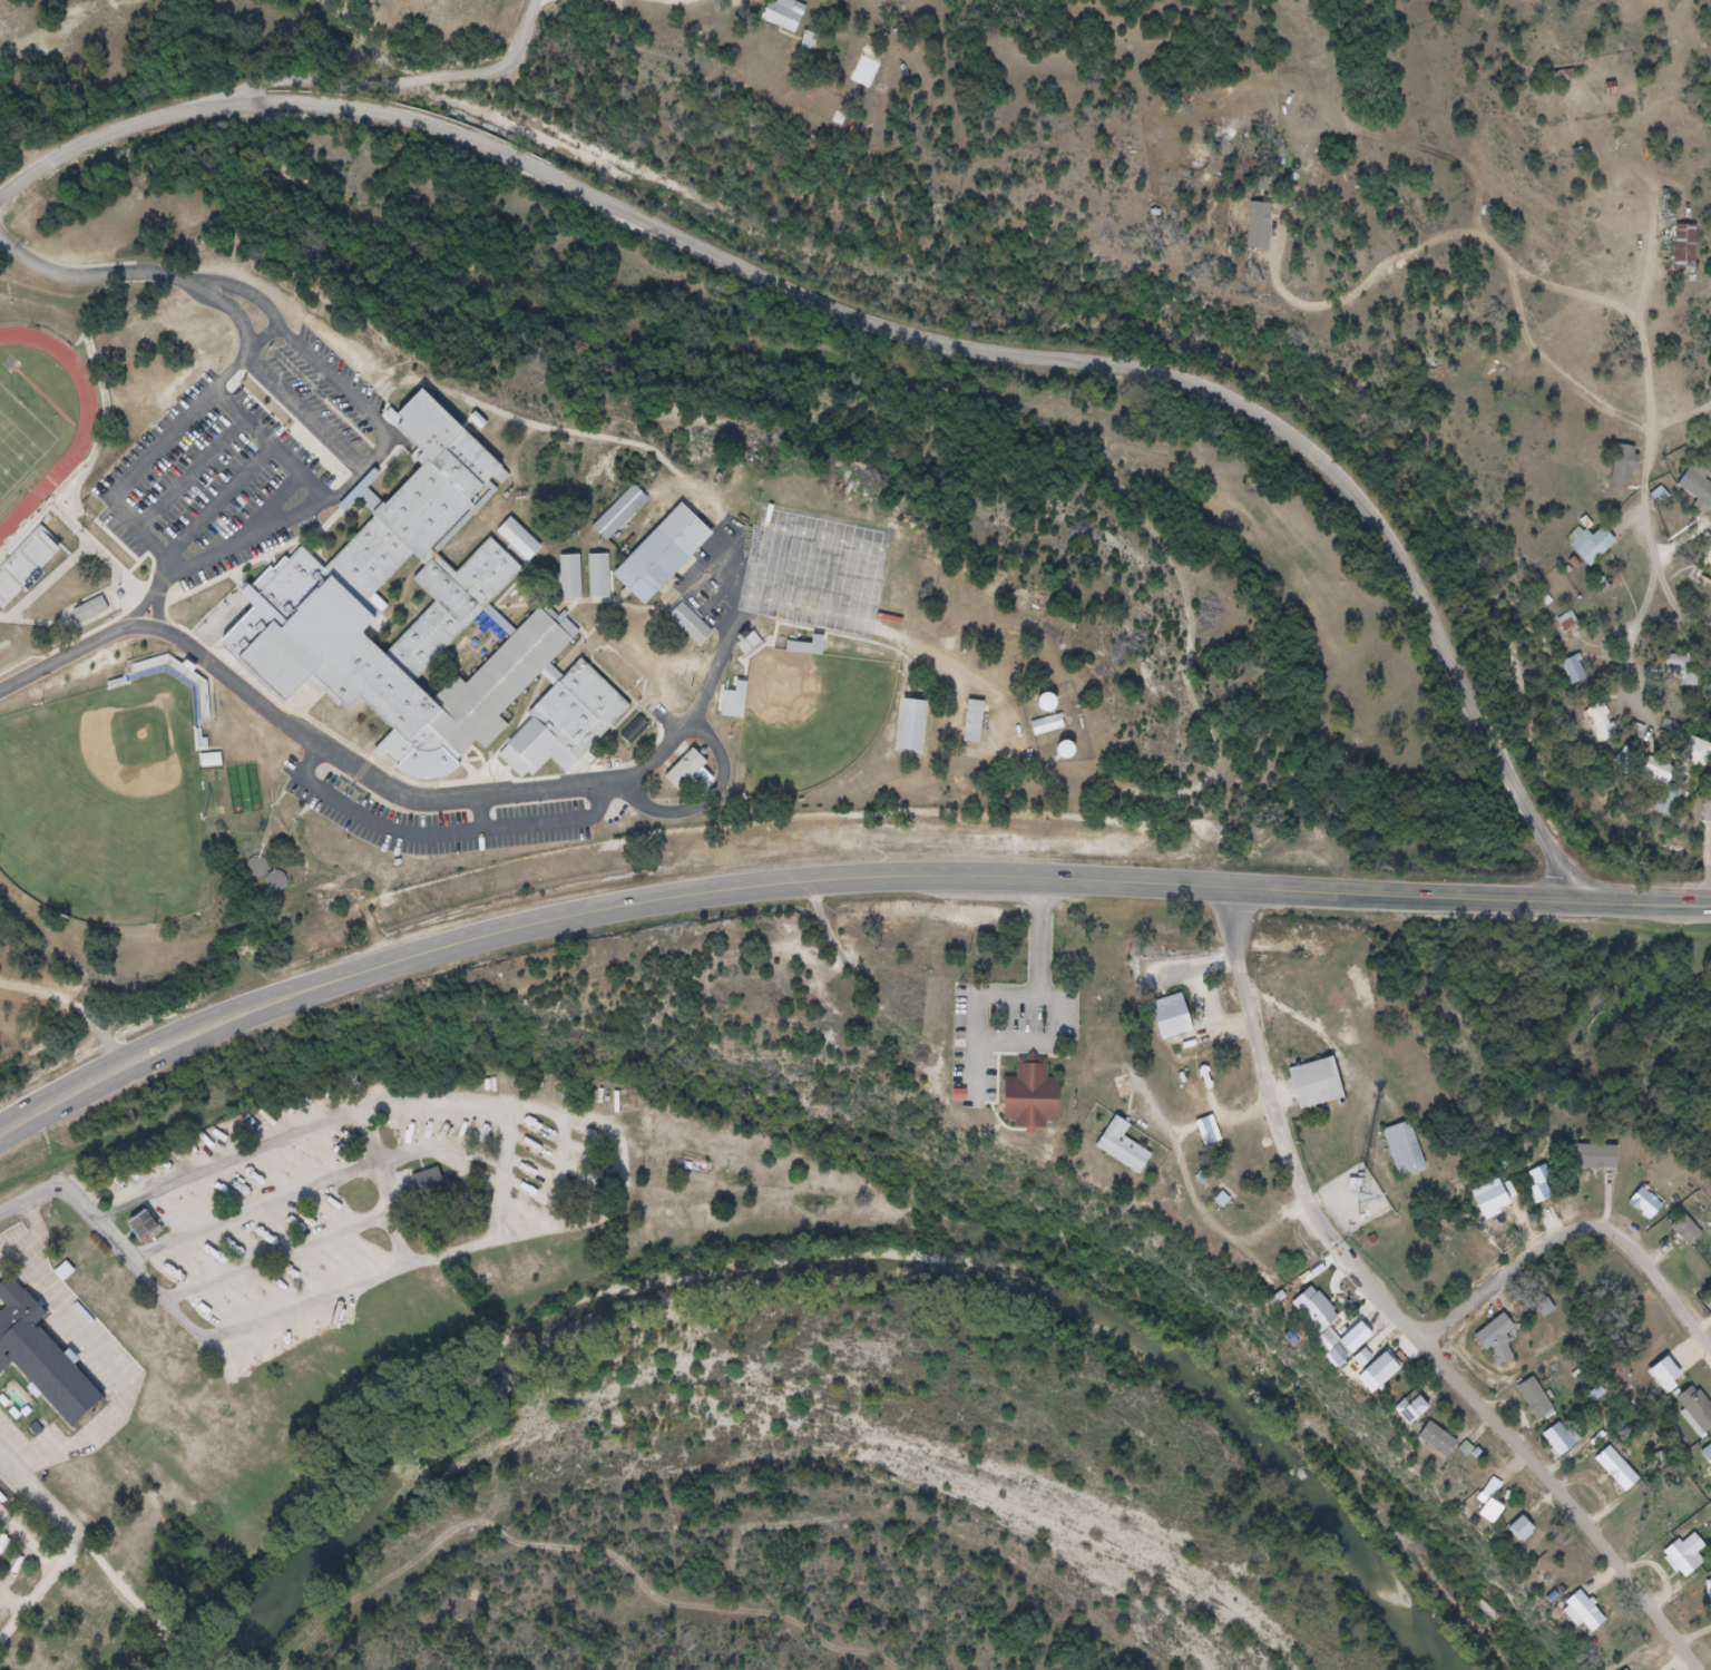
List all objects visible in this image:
road: (558, 2)
road: (682, 3)
building: (792, 19)
building: (811, 41)
road: (392, 81)
building: (1686, 247)
road: (96, 276)
road: (897, 328)
road: (264, 339)
road: (335, 379)
road: (1644, 392)
road: (302, 411)
track: (96, 428)
road: (549, 429)
road: (174, 431)
park: (21, 462)
parking lot: (243, 466)
building: (1625, 466)
road: (296, 469)
road: (190, 475)
stadium: (55, 478)
building: (1698, 485)
road: (317, 488)
road: (221, 502)
building: (619, 512)
building: (517, 538)
building: (1593, 546)
road: (224, 553)
building: (661, 556)
building: (26, 567)
building: (569, 577)
building: (598, 577)
building: (321, 587)
building: (91, 611)
road: (140, 612)
building: (690, 624)
building: (1571, 624)
building: (809, 646)
road: (70, 657)
building: (1575, 670)
building: (1683, 671)
building: (202, 700)
building: (734, 701)
building: (566, 720)
park: (808, 721)
building: (1601, 723)
building: (1049, 725)
building: (911, 726)
building: (1698, 754)
building: (212, 761)
building: (687, 771)
building: (1664, 784)
road: (456, 799)
road: (700, 805)
park: (108, 807)
road: (480, 816)
road: (1709, 818)
parking lot: (433, 820)
road: (444, 837)
road: (1708, 847)
road: (1004, 878)
road: (1710, 886)
road: (1043, 938)
building: (1180, 1025)
road: (151, 1061)
road: (1267, 1077)
building: (1125, 1088)
building: (1326, 1095)
building: (1038, 1105)
road: (599, 1124)
building: (1131, 1151)
building: (1415, 1163)
building: (1603, 1166)
road: (343, 1176)
road: (384, 1186)
building: (430, 1188)
road: (506, 1204)
building: (1651, 1210)
building: (144, 1225)
road: (107, 1237)
road: (1577, 1238)
building: (1697, 1240)
road: (278, 1258)
river: (825, 1267)
road: (1380, 1300)
building: (1546, 1308)
building: (1341, 1342)
building: (1505, 1350)
building: (43, 1358)
building: (1390, 1387)
building: (1671, 1387)
building: (1417, 1410)
building: (1545, 1412)
building: (1702, 1415)
building: (1418, 1423)
building: (39, 1430)
building: (1447, 1449)
building: (1567, 1452)
building: (1473, 1453)
building: (1709, 1461)
building: (1624, 1477)
road: (41, 1495)
road: (1563, 1502)
building: (1496, 1518)
building: (1525, 1530)
building: (1529, 1543)
road: (26, 1545)
building: (1693, 1561)
road: (40, 1586)
building: (1708, 1595)
road: (9, 1601)
building: (1591, 1618)

